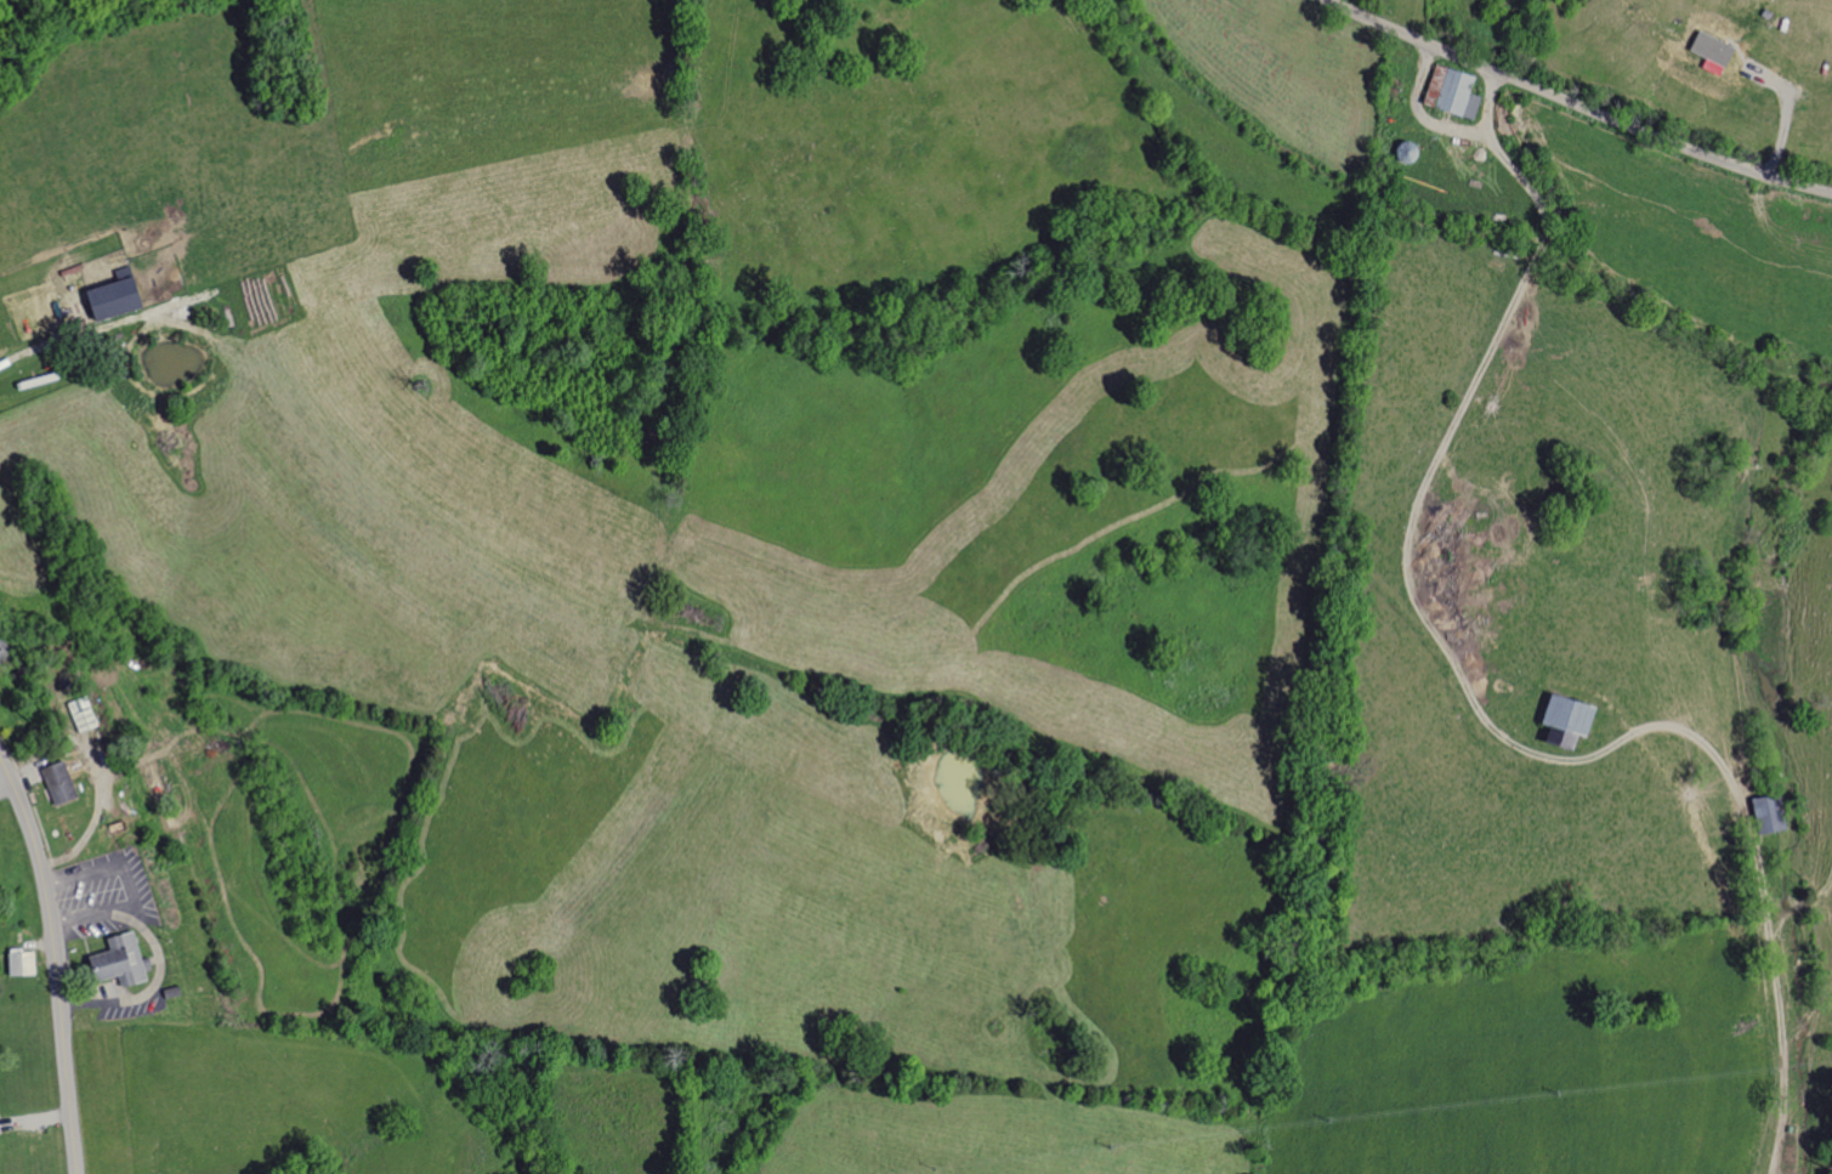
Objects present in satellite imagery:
building: (1714, 57)
building: (1447, 92)
road: (1577, 103)
road: (1418, 112)
building: (109, 296)
road: (1476, 705)
building: (81, 715)
building: (1560, 721)
building: (58, 779)
building: (1763, 815)
road: (55, 962)
building: (115, 962)
building: (18, 963)

